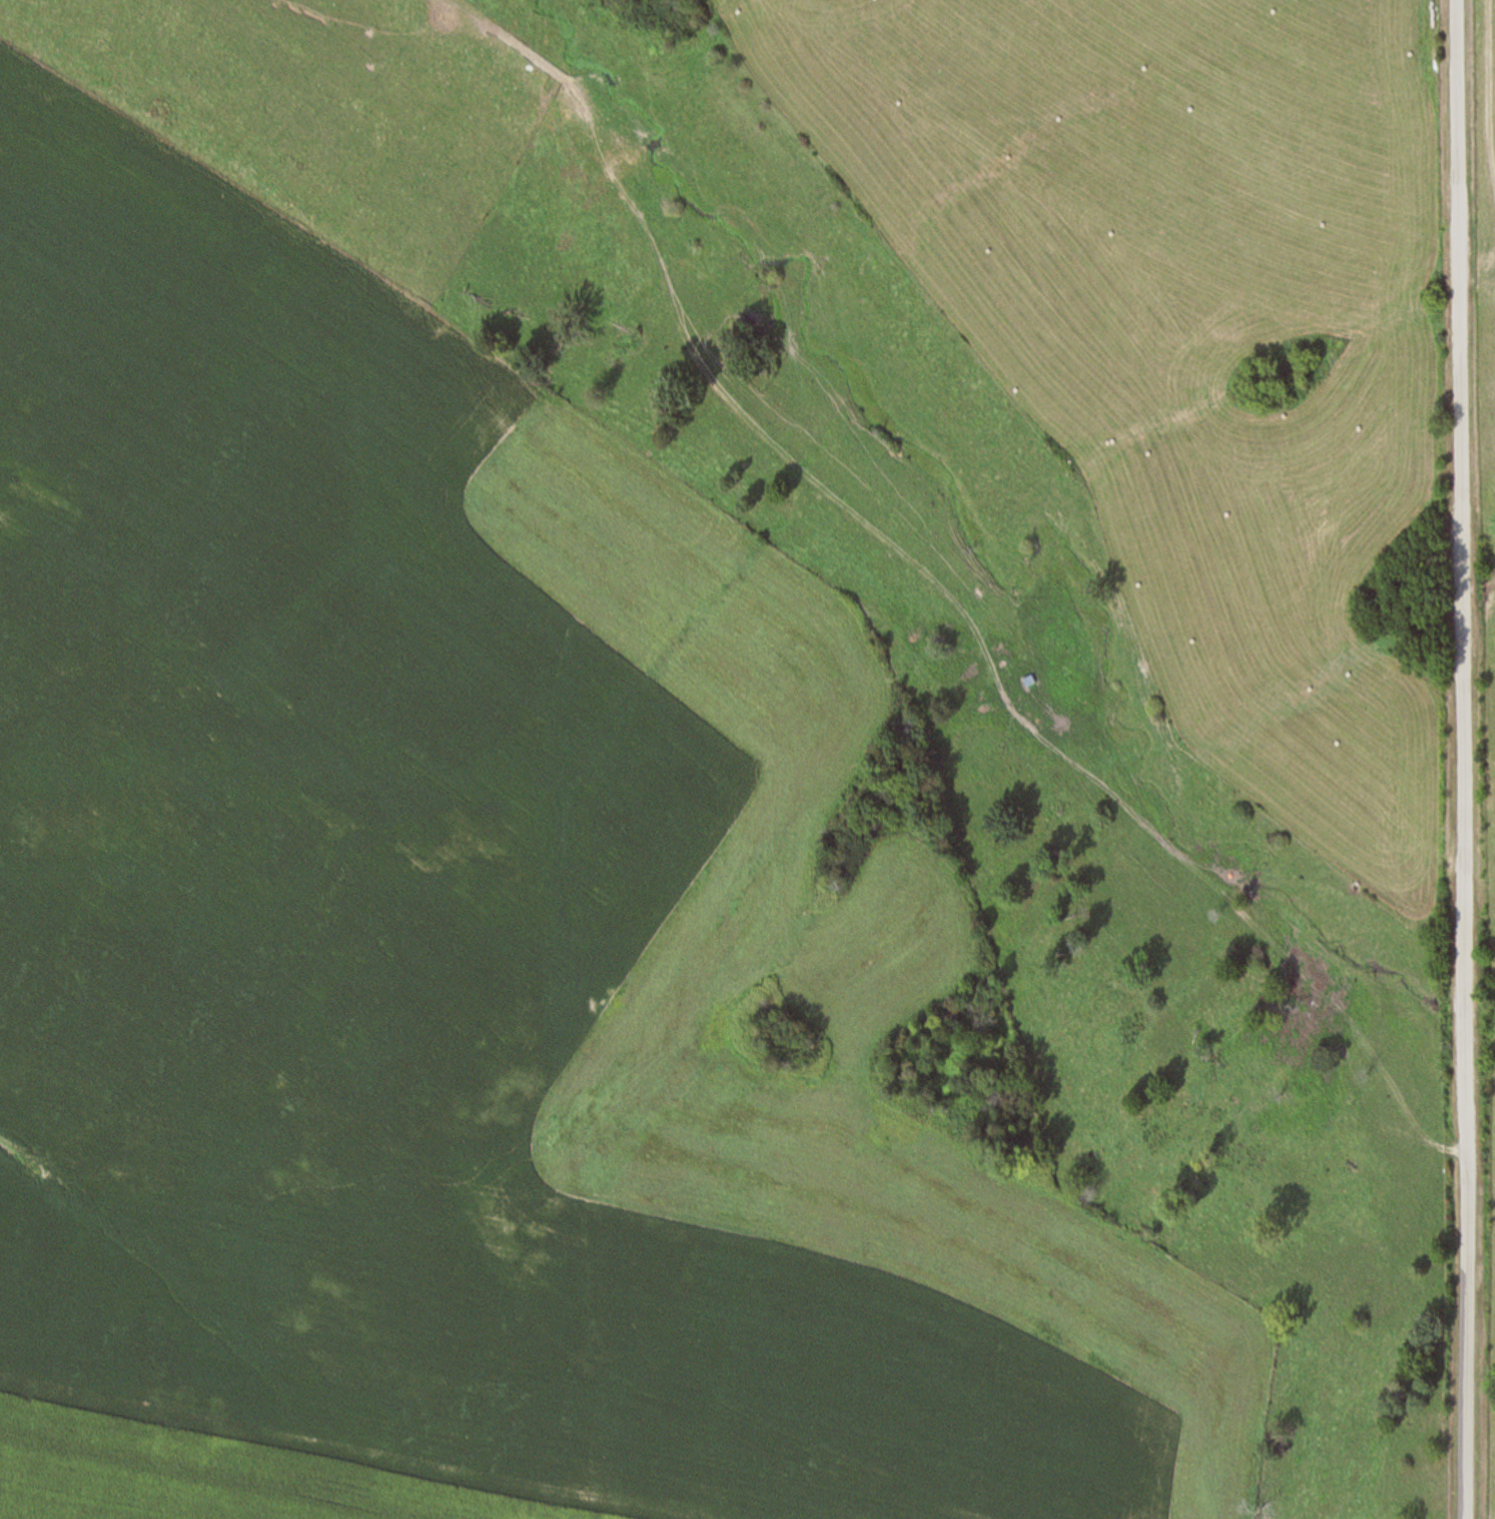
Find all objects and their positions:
road: (1462, 759)

